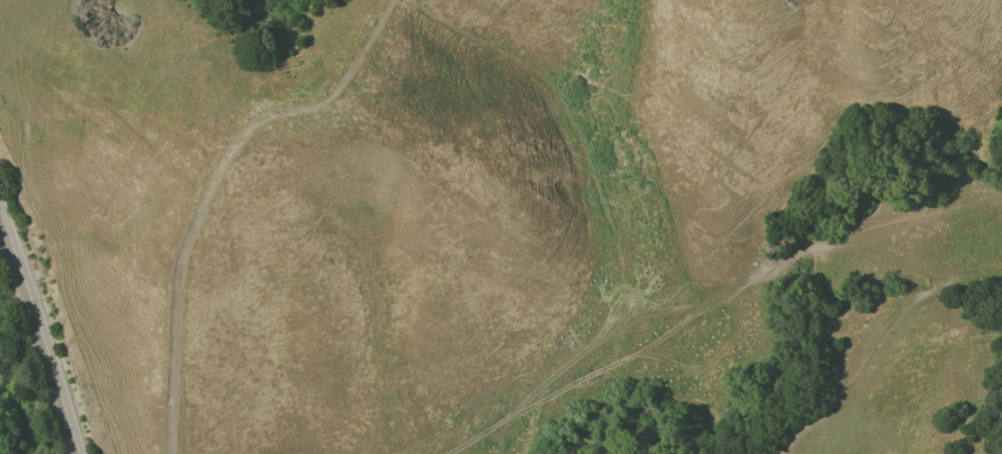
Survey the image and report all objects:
road: (35, 348)

